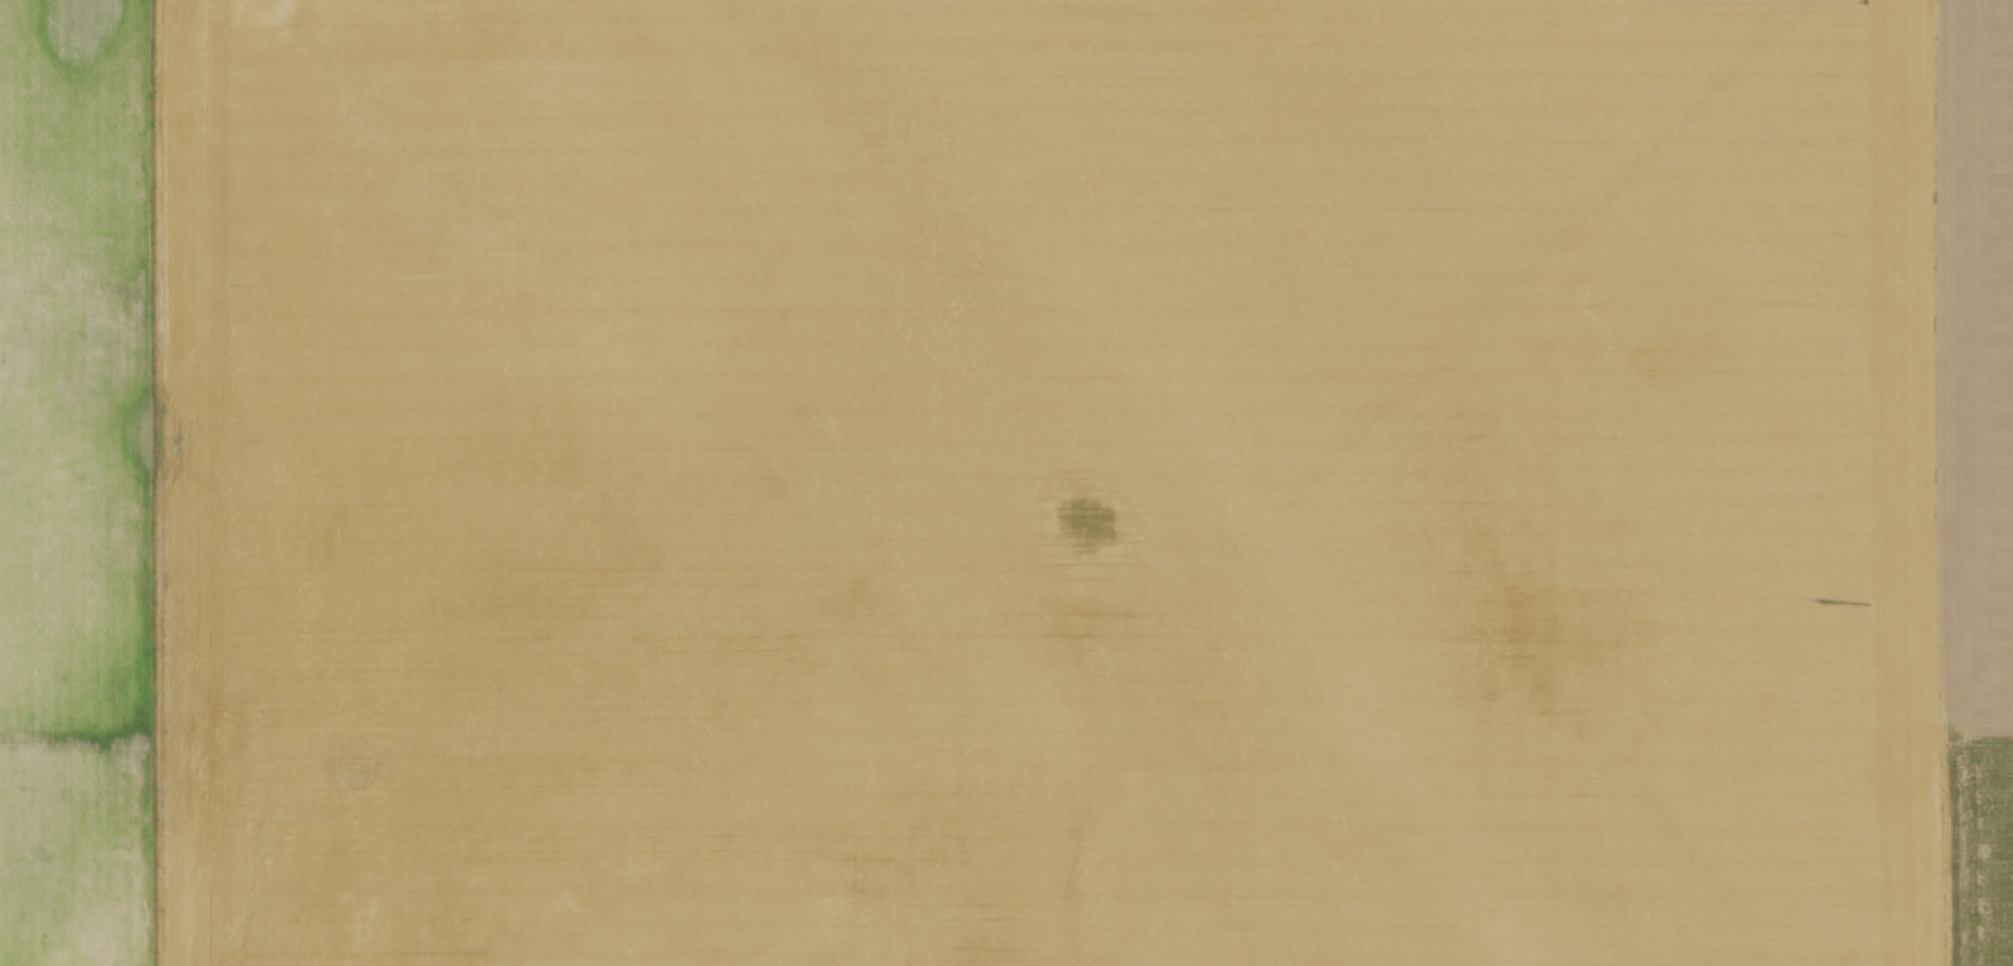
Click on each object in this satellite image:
crop: (1006, 483)
road: (1937, 483)

